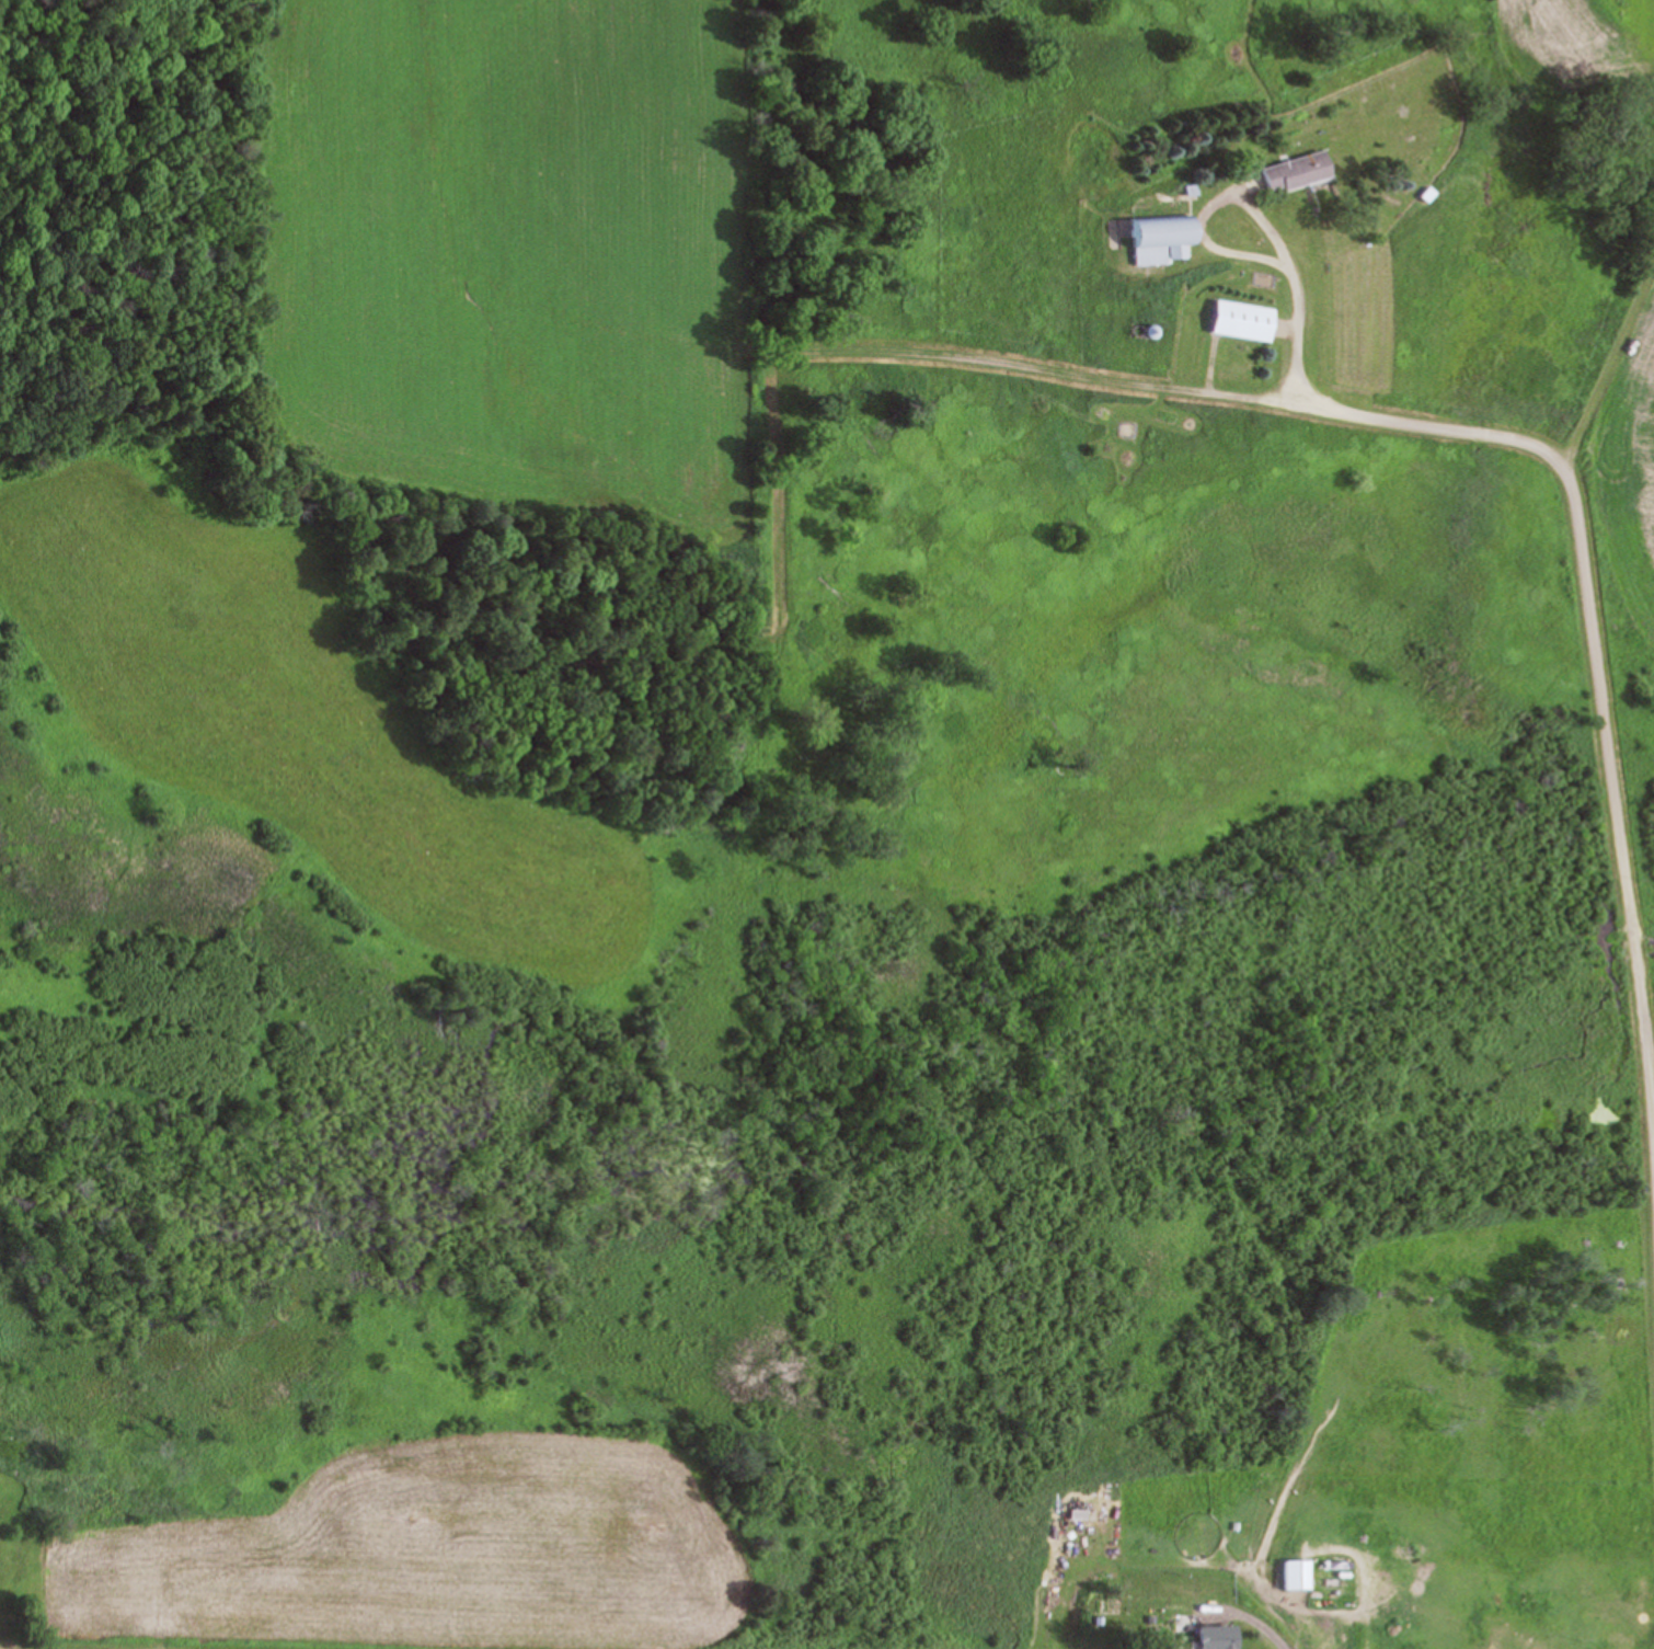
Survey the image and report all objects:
crop: (1576, 36)
building: (1289, 171)
road: (1270, 210)
building: (1153, 239)
crop: (520, 254)
building: (1238, 320)
crop: (1619, 467)
road: (1596, 667)
crop: (295, 715)
crop: (423, 1555)
building: (1297, 1574)
road: (1341, 1607)
building: (1211, 1637)

